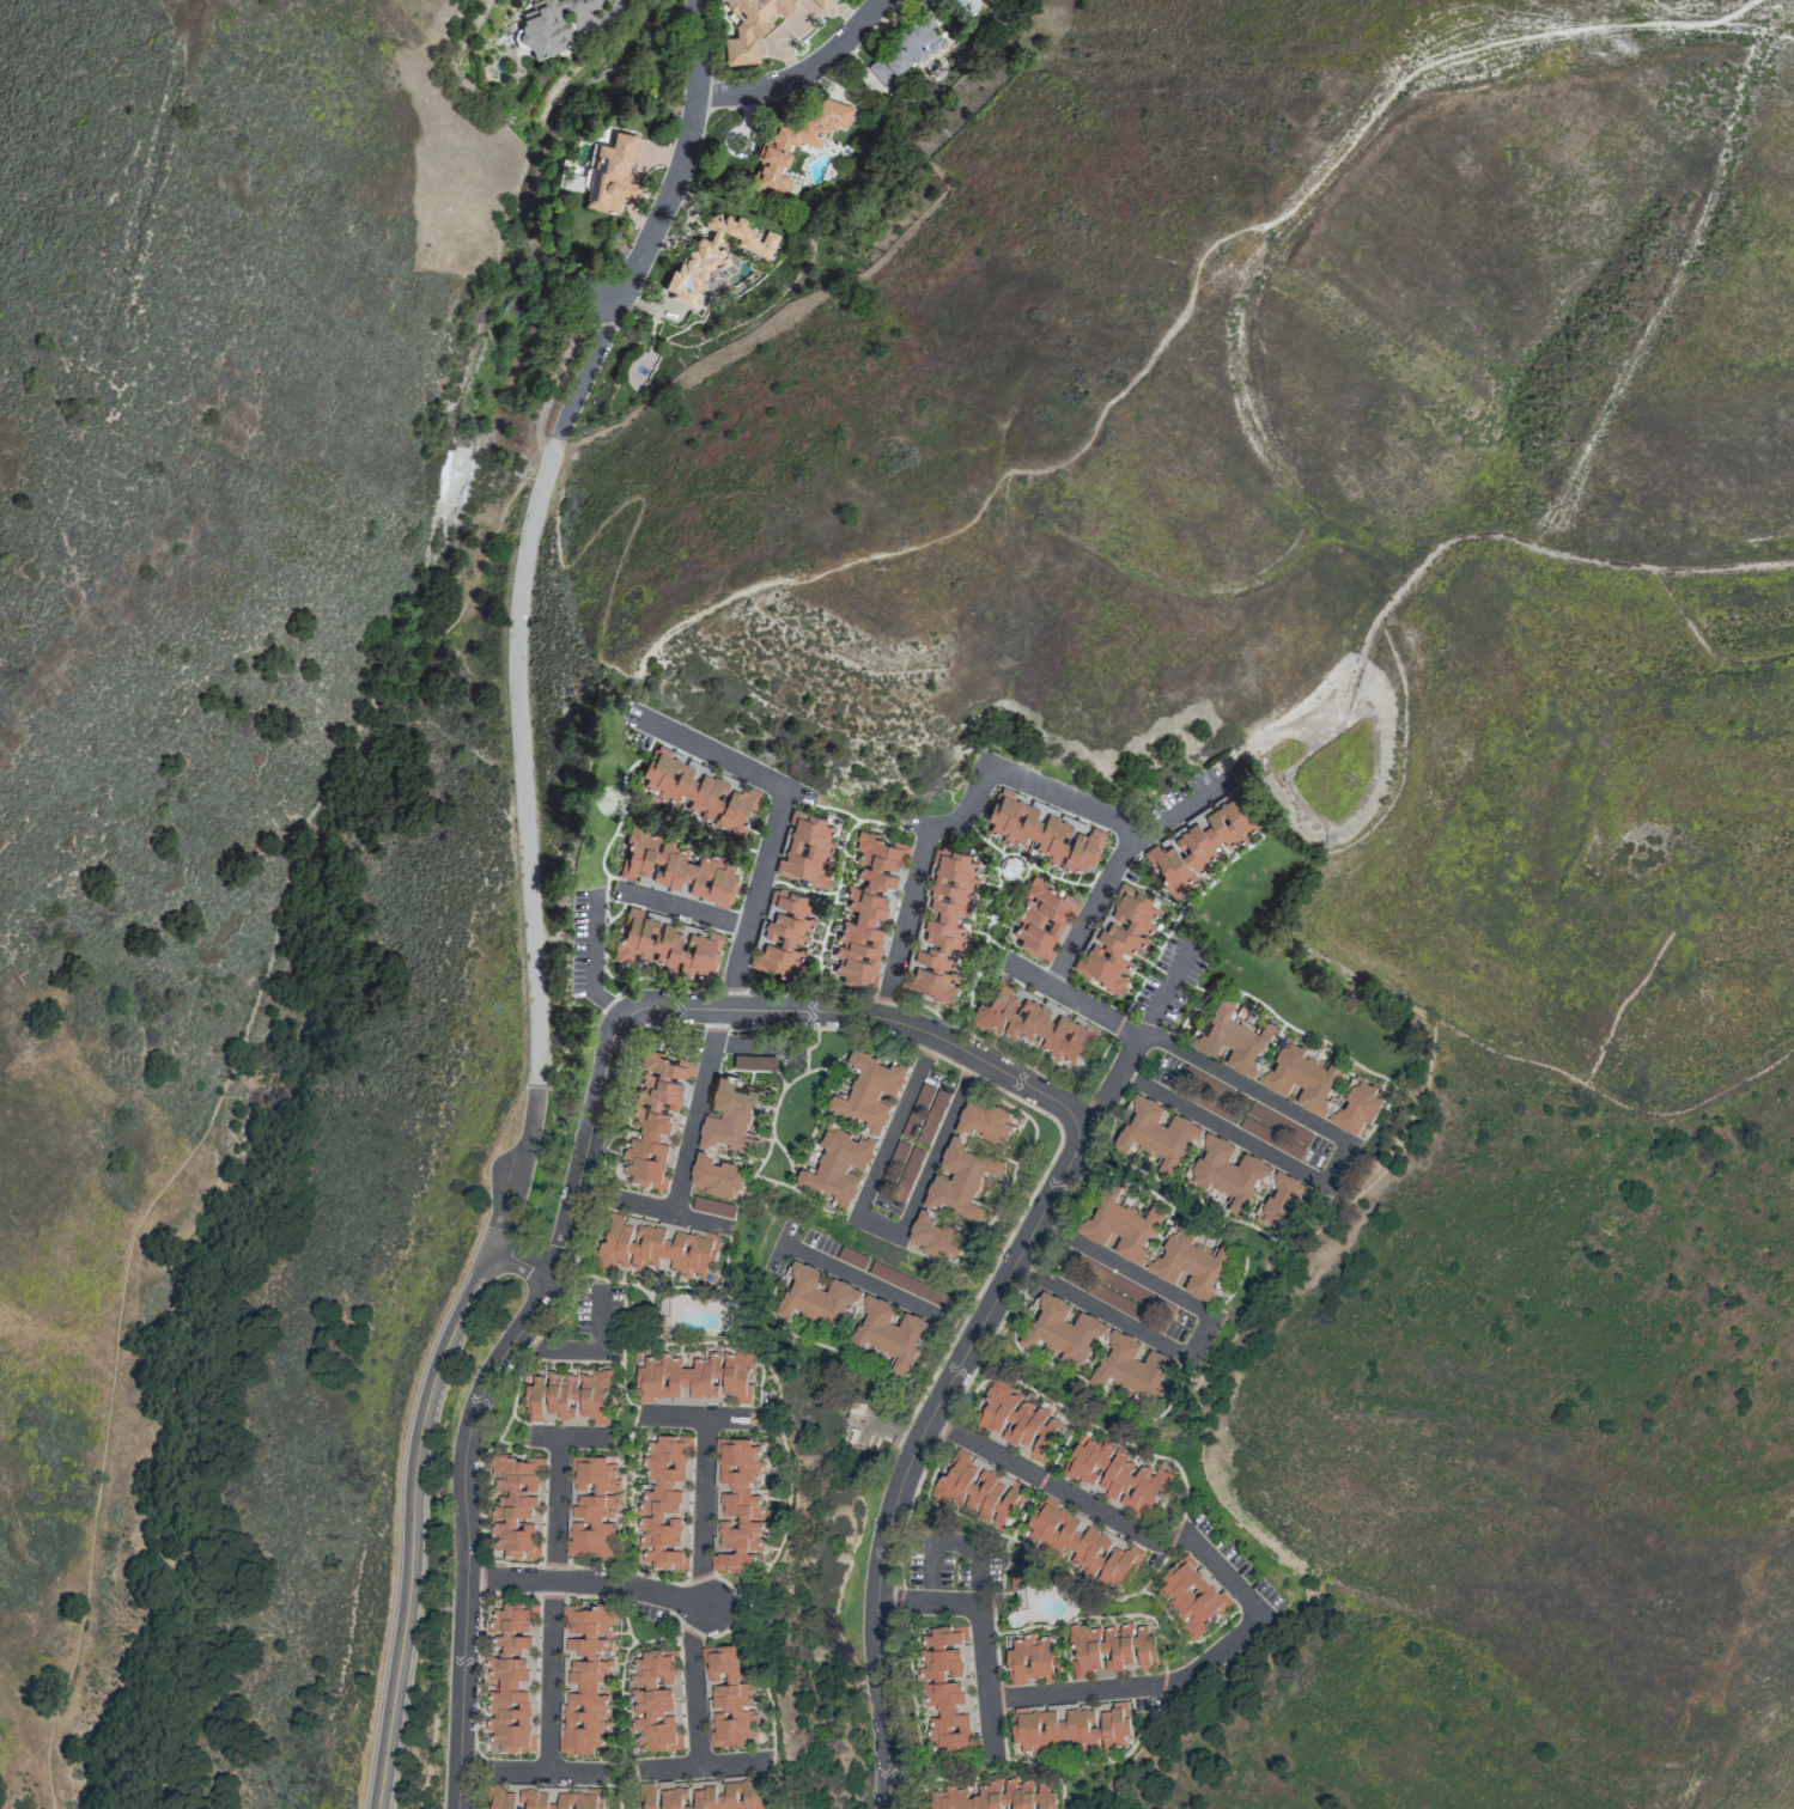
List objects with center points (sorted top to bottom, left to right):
building: (821, 2)
building: (551, 24)
building: (750, 26)
building: (901, 51)
road: (799, 72)
building: (776, 146)
building: (610, 175)
building: (712, 255)
road: (1060, 463)
road: (530, 526)
building: (699, 792)
road: (1173, 815)
road: (778, 821)
road: (959, 823)
building: (1041, 833)
building: (1199, 842)
building: (807, 849)
building: (677, 867)
road: (681, 909)
building: (865, 909)
road: (1090, 918)
building: (1040, 919)
building: (941, 926)
building: (784, 934)
building: (1117, 940)
building: (664, 944)
road: (594, 962)
road: (738, 1009)
building: (1033, 1024)
road: (1136, 1037)
road: (1179, 1049)
building: (746, 1060)
building: (1285, 1070)
building: (1199, 1089)
road: (224, 1091)
road: (694, 1111)
building: (925, 1114)
building: (732, 1115)
building: (655, 1119)
building: (985, 1121)
building: (872, 1133)
road: (1236, 1139)
building: (1211, 1162)
road: (517, 1165)
building: (716, 1175)
building: (961, 1181)
road: (892, 1224)
building: (1120, 1229)
building: (936, 1238)
building: (657, 1247)
road: (521, 1261)
building: (1191, 1266)
road: (877, 1289)
building: (826, 1320)
road: (1206, 1334)
building: (1072, 1347)
road: (580, 1351)
building: (697, 1376)
building: (568, 1396)
road: (701, 1414)
building: (1015, 1420)
road: (890, 1432)
road: (545, 1437)
road: (907, 1460)
building: (1115, 1475)
road: (553, 1488)
building: (977, 1491)
building: (518, 1505)
building: (740, 1505)
building: (664, 1506)
building: (594, 1507)
road: (703, 1509)
road: (412, 1521)
road: (467, 1531)
road: (959, 1541)
building: (1082, 1546)
road: (589, 1585)
building: (1188, 1595)
building: (1097, 1649)
building: (1143, 1649)
road: (1222, 1649)
building: (1029, 1661)
building: (512, 1679)
building: (588, 1680)
road: (693, 1682)
building: (945, 1691)
building: (730, 1697)
building: (656, 1701)
road: (545, 1704)
building: (1070, 1729)
road: (704, 1764)
road: (519, 1771)
building: (990, 1796)
building: (712, 1797)
building: (546, 1799)

